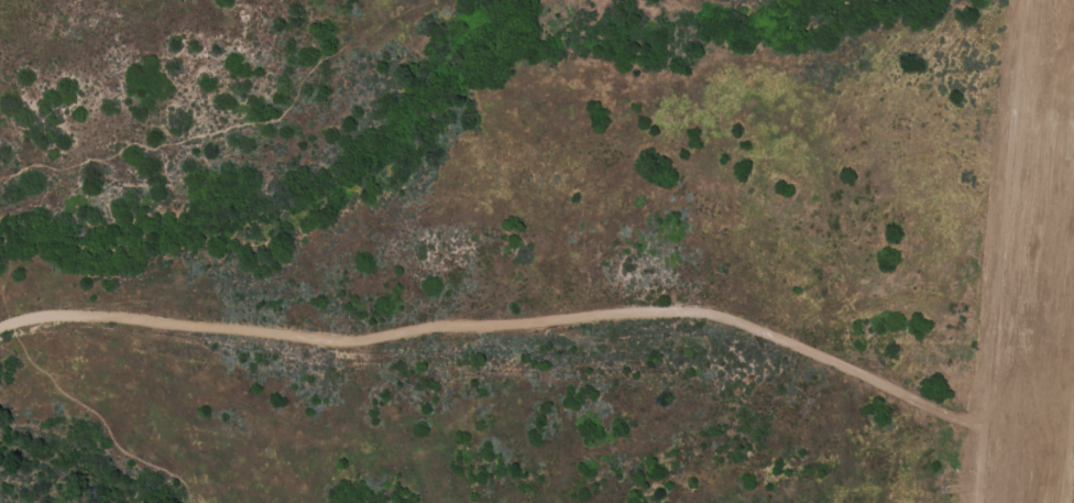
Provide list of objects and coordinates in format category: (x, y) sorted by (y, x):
road: (1000, 251)

